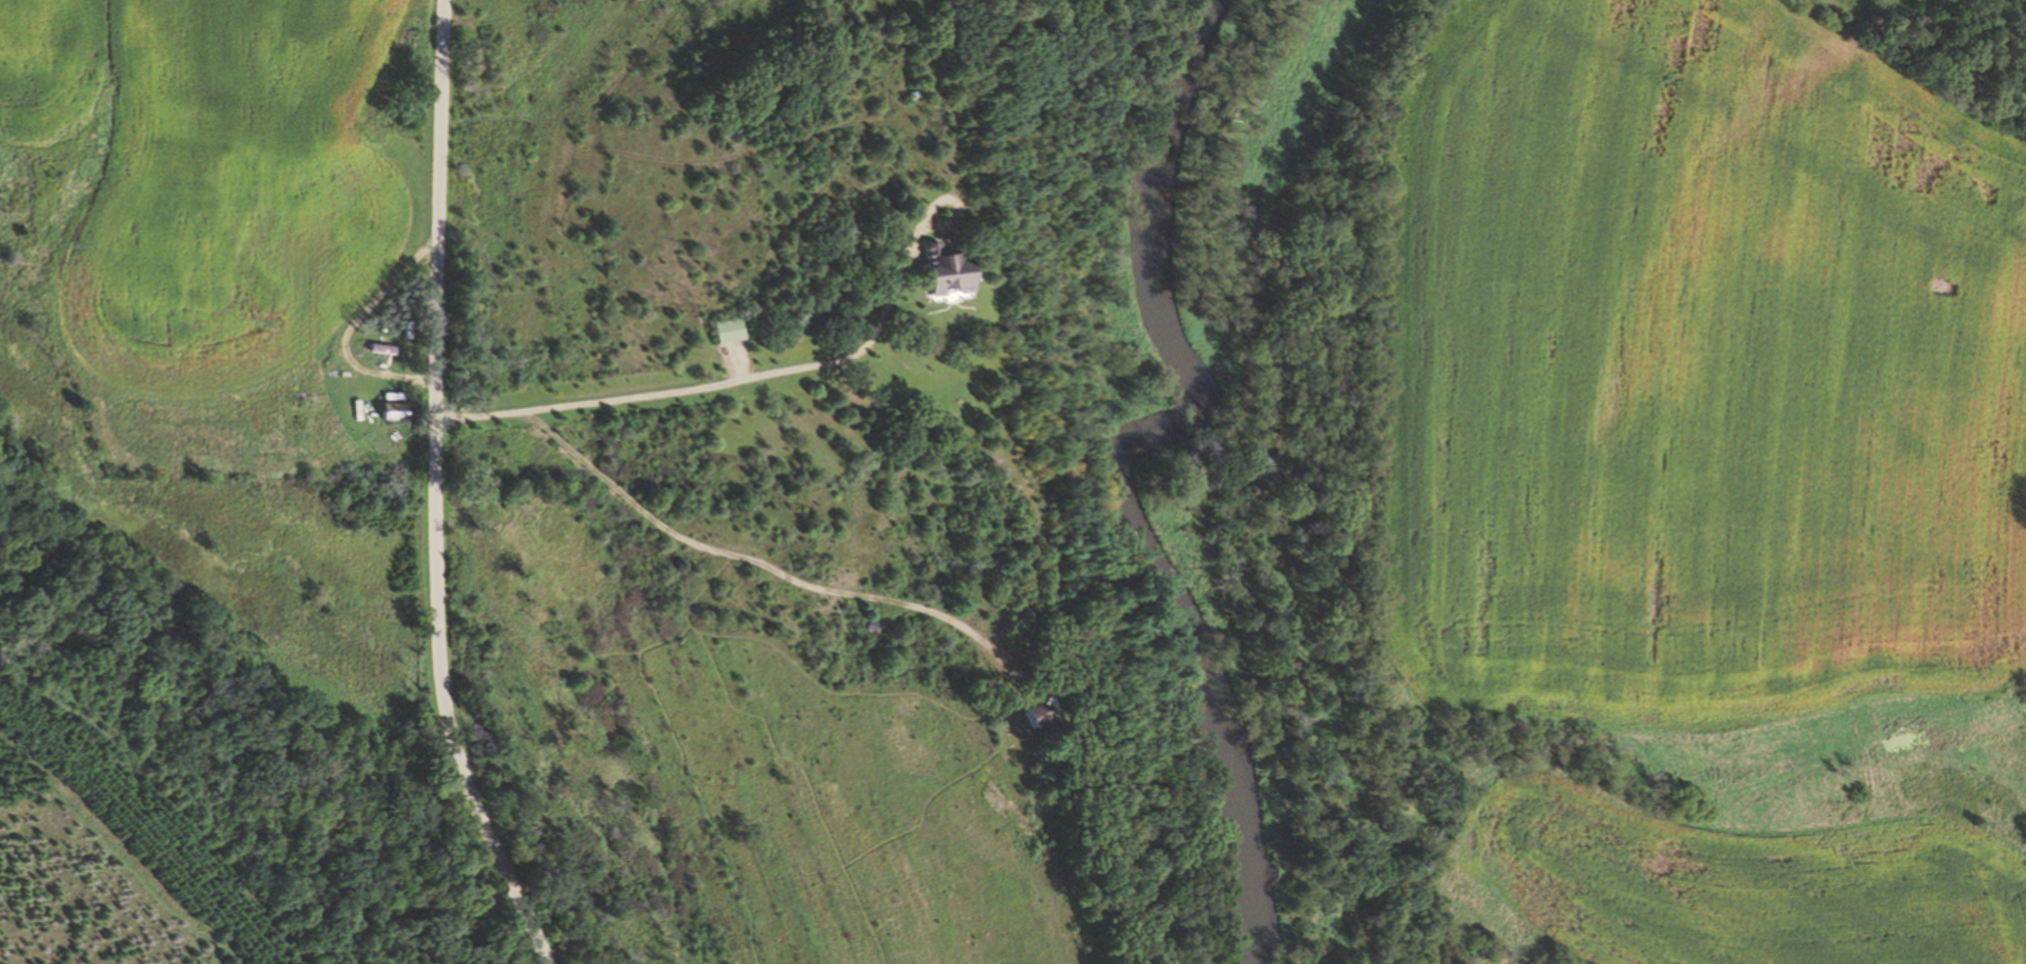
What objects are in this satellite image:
building: (935, 273)
building: (721, 331)
road: (767, 372)
river: (1113, 460)
road: (431, 491)
road: (754, 560)
building: (1028, 713)

